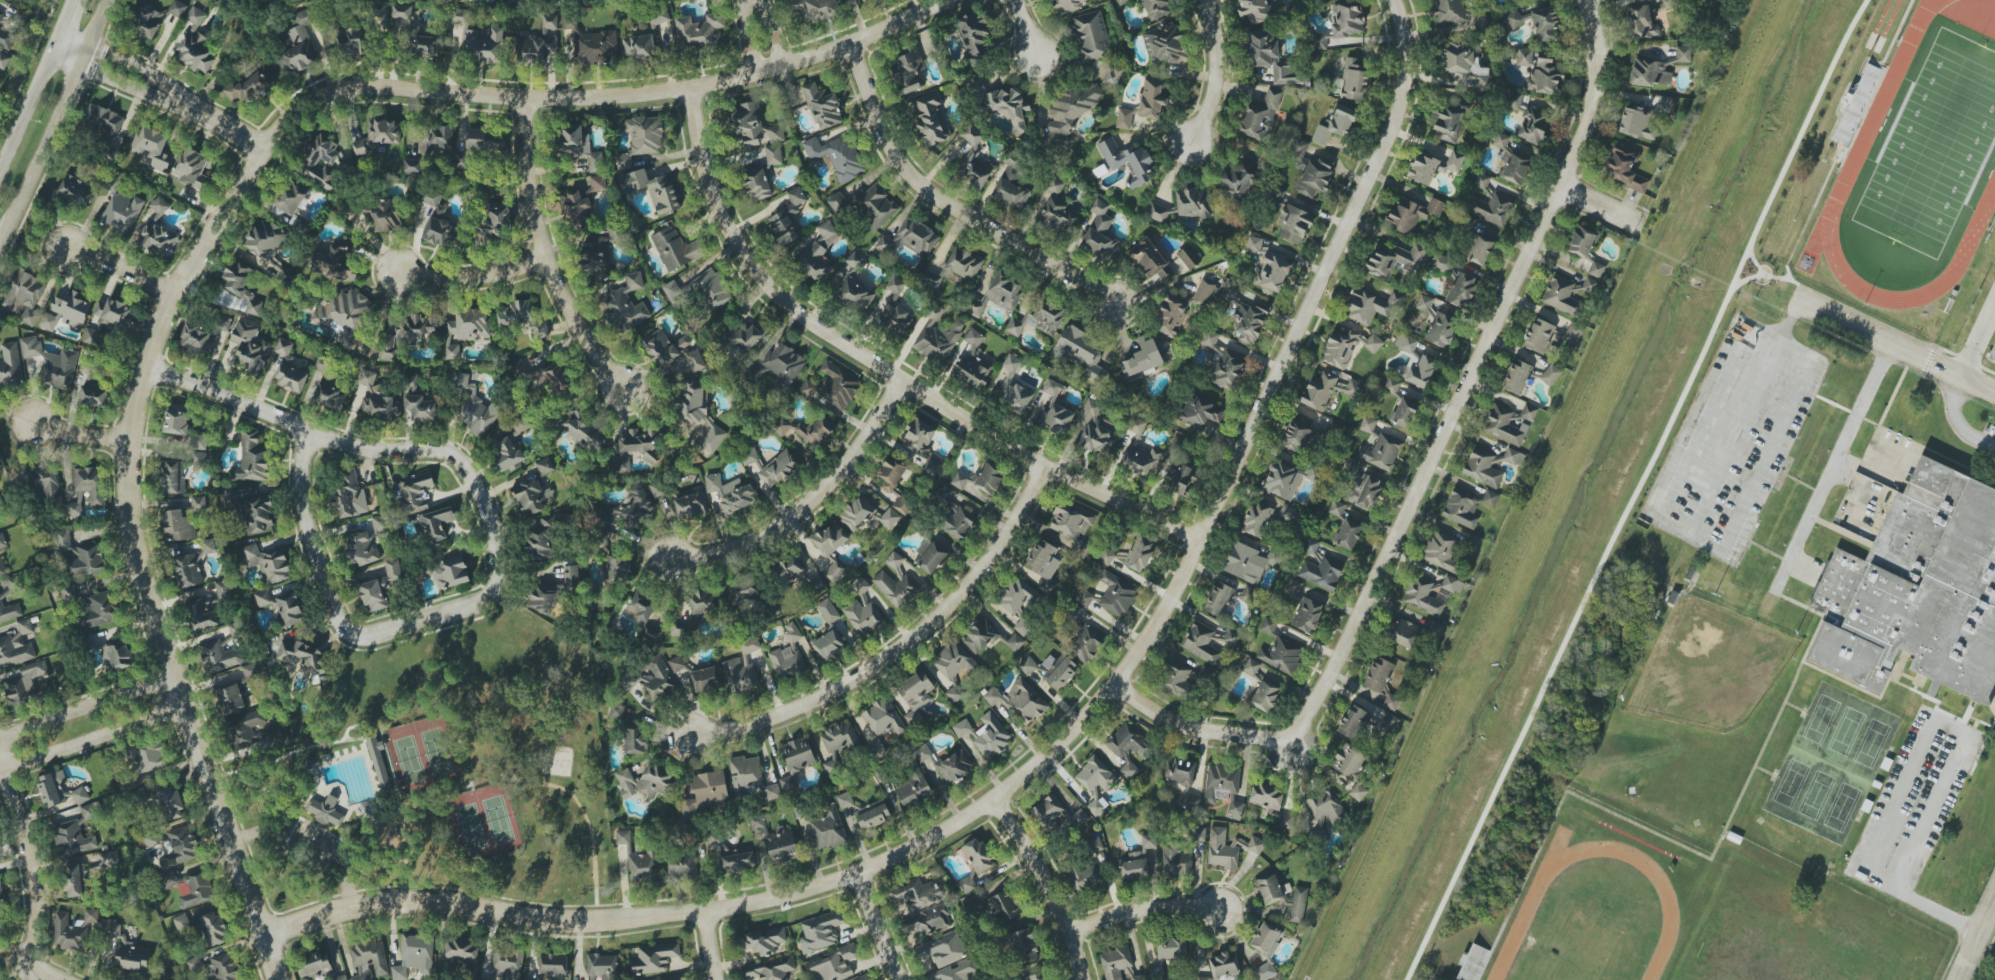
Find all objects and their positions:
building: (860, 0)
building: (1120, 1)
building: (1672, 3)
building: (1067, 6)
building: (177, 8)
building: (1156, 8)
building: (813, 9)
building: (381, 11)
building: (1253, 12)
building: (1448, 12)
building: (460, 16)
building: (660, 18)
building: (1346, 18)
building: (1479, 21)
building: (146, 22)
building: (1538, 22)
building: (1641, 23)
track: (1984, 23)
road: (1030, 30)
building: (698, 31)
building: (411, 33)
building: (6, 35)
road: (761, 35)
building: (1090, 36)
building: (351, 41)
building: (974, 41)
building: (1320, 41)
building: (591, 43)
building: (299, 44)
building: (537, 44)
building: (1164, 44)
building: (195, 45)
building: (483, 46)
building: (638, 48)
building: (1682, 55)
building: (1270, 57)
building: (1524, 57)
building: (4, 60)
building: (1462, 66)
building: (909, 71)
building: (1650, 72)
building: (1112, 75)
road: (1213, 75)
building: (1544, 76)
building: (1354, 80)
road: (37, 84)
building: (251, 85)
road: (161, 92)
road: (1592, 95)
building: (1151, 99)
building: (1514, 101)
track: (1884, 101)
building: (1000, 104)
building: (822, 107)
building: (1071, 111)
building: (1853, 114)
building: (1260, 115)
building: (1644, 117)
building: (1124, 118)
building: (103, 119)
building: (930, 120)
building: (1447, 123)
road: (56, 125)
building: (1336, 125)
building: (1531, 125)
building: (755, 126)
building: (644, 135)
building: (378, 137)
building: (437, 138)
building: (1500, 140)
building: (478, 145)
building: (579, 147)
building: (152, 148)
park: (1934, 148)
building: (773, 155)
building: (837, 156)
building: (973, 160)
building: (623, 161)
building: (1127, 161)
building: (343, 163)
track: (1919, 165)
building: (1433, 166)
building: (1515, 166)
stadium: (1907, 166)
building: (412, 167)
building: (1625, 168)
building: (193, 169)
building: (1310, 173)
building: (1237, 181)
building: (1482, 182)
building: (598, 183)
building: (757, 183)
building: (1011, 184)
building: (652, 189)
building: (76, 191)
building: (1276, 195)
building: (290, 198)
building: (1193, 202)
building: (433, 203)
road: (948, 204)
building: (866, 205)
road: (1599, 205)
building: (576, 208)
building: (1493, 209)
building: (1056, 211)
building: (122, 212)
building: (1157, 212)
building: (1412, 213)
building: (384, 215)
road: (1807, 218)
building: (787, 219)
road: (220, 221)
building: (494, 224)
building: (1293, 224)
building: (158, 230)
building: (436, 231)
building: (1099, 233)
building: (827, 234)
building: (917, 236)
building: (265, 240)
building: (885, 244)
building: (1253, 244)
road: (0, 246)
building: (675, 248)
building: (1480, 249)
building: (1585, 249)
building: (599, 255)
road: (547, 256)
building: (1188, 257)
building: (855, 258)
building: (1150, 259)
building: (1395, 259)
building: (333, 261)
building: (815, 262)
building: (1442, 263)
building: (954, 268)
road: (120, 269)
building: (1272, 274)
road: (472, 276)
road: (1767, 276)
road: (1746, 279)
building: (240, 286)
building: (895, 288)
building: (711, 290)
building: (1461, 290)
building: (673, 291)
building: (1204, 292)
building: (1230, 292)
building: (1568, 293)
building: (24, 295)
building: (998, 295)
building: (855, 296)
building: (1424, 303)
building: (626, 304)
building: (1372, 305)
building: (68, 310)
building: (114, 311)
building: (343, 314)
building: (520, 316)
building: (1170, 316)
road: (1791, 317)
building: (894, 319)
building: (1039, 319)
building: (1249, 320)
building: (224, 324)
building: (465, 329)
building: (1441, 330)
road: (1896, 330)
building: (1572, 333)
building: (937, 335)
building: (407, 336)
building: (1539, 336)
road: (1977, 337)
building: (743, 338)
building: (197, 339)
building: (1406, 342)
road: (1858, 342)
road: (1897, 345)
building: (249, 346)
building: (1346, 347)
building: (672, 350)
building: (1080, 353)
building: (1143, 357)
road: (1928, 359)
building: (973, 362)
building: (1223, 362)
building: (52, 363)
building: (10, 365)
building: (778, 367)
road: (886, 368)
building: (288, 369)
building: (1421, 372)
building: (1550, 375)
building: (551, 376)
building: (1516, 377)
building: (1392, 386)
building: (328, 387)
building: (833, 388)
building: (1013, 389)
building: (1327, 390)
building: (93, 396)
building: (375, 398)
building: (417, 400)
building: (474, 407)
building: (1055, 409)
building: (1200, 411)
building: (1403, 412)
building: (699, 413)
building: (176, 420)
road: (1955, 420)
building: (1509, 422)
building: (1367, 425)
road: (1877, 425)
building: (1095, 429)
building: (806, 430)
building: (583, 431)
road: (78, 432)
parking lot: (1735, 439)
building: (200, 442)
building: (922, 444)
building: (510, 447)
road: (366, 449)
building: (634, 450)
building: (1139, 451)
building: (1381, 452)
building: (1513, 457)
building: (199, 458)
building: (253, 459)
building: (770, 467)
road: (1831, 467)
building: (1482, 468)
building: (544, 470)
building: (1179, 470)
building: (173, 477)
building: (1283, 479)
building: (979, 481)
building: (45, 482)
building: (91, 484)
building: (895, 484)
building: (1362, 487)
road: (1637, 489)
building: (657, 490)
river: (1578, 490)
building: (413, 492)
building: (730, 492)
building: (349, 495)
building: (531, 497)
road: (809, 501)
building: (692, 504)
building: (1466, 506)
building: (1336, 508)
building: (628, 509)
building: (75, 510)
building: (857, 513)
building: (1288, 513)
building: (257, 514)
building: (954, 516)
building: (889, 518)
building: (1258, 520)
building: (178, 526)
building: (378, 526)
building: (1072, 527)
building: (435, 528)
building: (1348, 534)
road: (310, 535)
building: (541, 535)
building: (830, 539)
building: (3, 541)
building: (1311, 546)
road: (1714, 546)
building: (361, 549)
road: (1390, 549)
building: (1440, 551)
building: (1139, 553)
building: (930, 556)
building: (1106, 556)
building: (79, 557)
building: (1042, 559)
building: (1248, 562)
building: (268, 564)
building: (614, 564)
building: (192, 566)
building: (2, 568)
building: (450, 572)
building: (793, 572)
building: (1321, 573)
building: (572, 576)
building: (896, 583)
building: (1452, 584)
building: (381, 587)
building: (744, 590)
building: (223, 591)
building: (1917, 591)
building: (1018, 594)
building: (1110, 595)
building: (544, 597)
building: (1422, 597)
building: (1, 599)
building: (1218, 599)
building: (704, 601)
building: (641, 606)
building: (282, 607)
building: (773, 608)
building: (97, 609)
building: (862, 609)
building: (1303, 609)
building: (201, 615)
road: (421, 619)
building: (1268, 625)
building: (830, 626)
building: (1403, 633)
building: (650, 635)
building: (980, 635)
building: (1225, 638)
building: (1086, 643)
building: (1200, 643)
building: (750, 645)
building: (17, 646)
road: (903, 648)
building: (116, 655)
building: (788, 655)
building: (1281, 655)
building: (303, 658)
building: (955, 660)
building: (677, 664)
building: (1028, 666)
building: (1251, 666)
building: (250, 671)
building: (1058, 671)
building: (1377, 674)
building: (739, 675)
building: (652, 678)
building: (704, 679)
building: (1184, 679)
road: (1895, 682)
building: (29, 686)
building: (955, 694)
building: (915, 695)
building: (1265, 696)
building: (1019, 700)
building: (1391, 702)
road: (1794, 706)
building: (616, 711)
building: (882, 723)
building: (1354, 723)
building: (1388, 724)
road: (91, 725)
road: (1950, 726)
building: (245, 728)
building: (985, 734)
building: (636, 741)
building: (838, 742)
road: (1053, 744)
building: (1128, 748)
park: (420, 753)
building: (798, 754)
building: (148, 757)
building: (1349, 760)
building: (379, 763)
road: (2, 768)
building: (1179, 771)
road: (1764, 771)
building: (745, 774)
park: (444, 775)
building: (645, 782)
building: (1095, 783)
building: (786, 784)
building: (54, 788)
building: (1223, 788)
building: (914, 789)
building: (774, 791)
building: (1357, 792)
building: (705, 793)
building: (80, 795)
building: (1266, 797)
building: (844, 800)
building: (1188, 800)
building: (170, 801)
parking lot: (1907, 802)
building: (1326, 807)
building: (326, 811)
building: (872, 814)
building: (1056, 814)
building: (1279, 821)
park: (483, 822)
road: (588, 828)
building: (828, 829)
building: (76, 833)
building: (1318, 833)
building: (776, 841)
building: (1093, 845)
building: (180, 847)
road: (308, 847)
building: (1228, 848)
road: (1713, 851)
building: (977, 855)
building: (109, 859)
building: (636, 860)
building: (738, 861)
building: (1136, 862)
building: (1176, 862)
building: (681, 865)
road: (35, 875)
building: (1085, 876)
building: (75, 880)
road: (1049, 885)
building: (190, 887)
building: (1269, 888)
building: (1, 893)
building: (917, 895)
track: (1531, 900)
building: (1298, 905)
road: (1919, 905)
building: (1004, 906)
road: (1144, 908)
building: (926, 921)
road: (879, 926)
building: (203, 927)
building: (81, 929)
building: (820, 931)
building: (764, 941)
road: (1977, 941)
road: (708, 945)
building: (1022, 946)
building: (1171, 948)
building: (1266, 948)
building: (943, 949)
building: (462, 952)
park: (1762, 954)
building: (415, 956)
building: (132, 957)
building: (654, 958)
building: (369, 960)
building: (1115, 962)
building: (507, 963)
building: (194, 964)
building: (833, 964)
building: (314, 965)
building: (553, 965)
building: (1224, 965)
building: (601, 966)
building: (1470, 966)
building: (224, 967)
building: (770, 969)
building: (1129, 971)
building: (863, 976)
building: (1037, 977)
building: (341, 978)
building: (675, 978)
building: (1202, 978)

